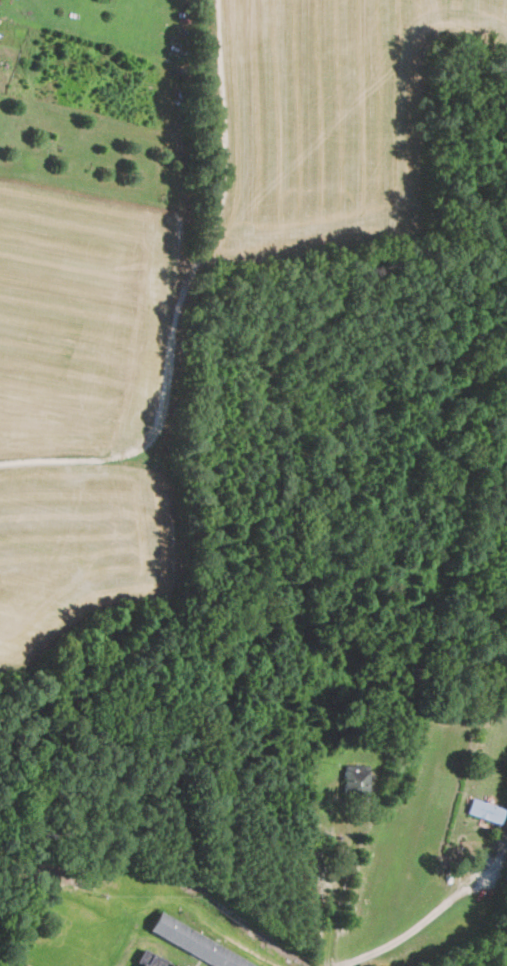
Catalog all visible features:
building: (355, 776)
building: (485, 810)
road: (424, 921)
building: (199, 943)
building: (151, 959)

